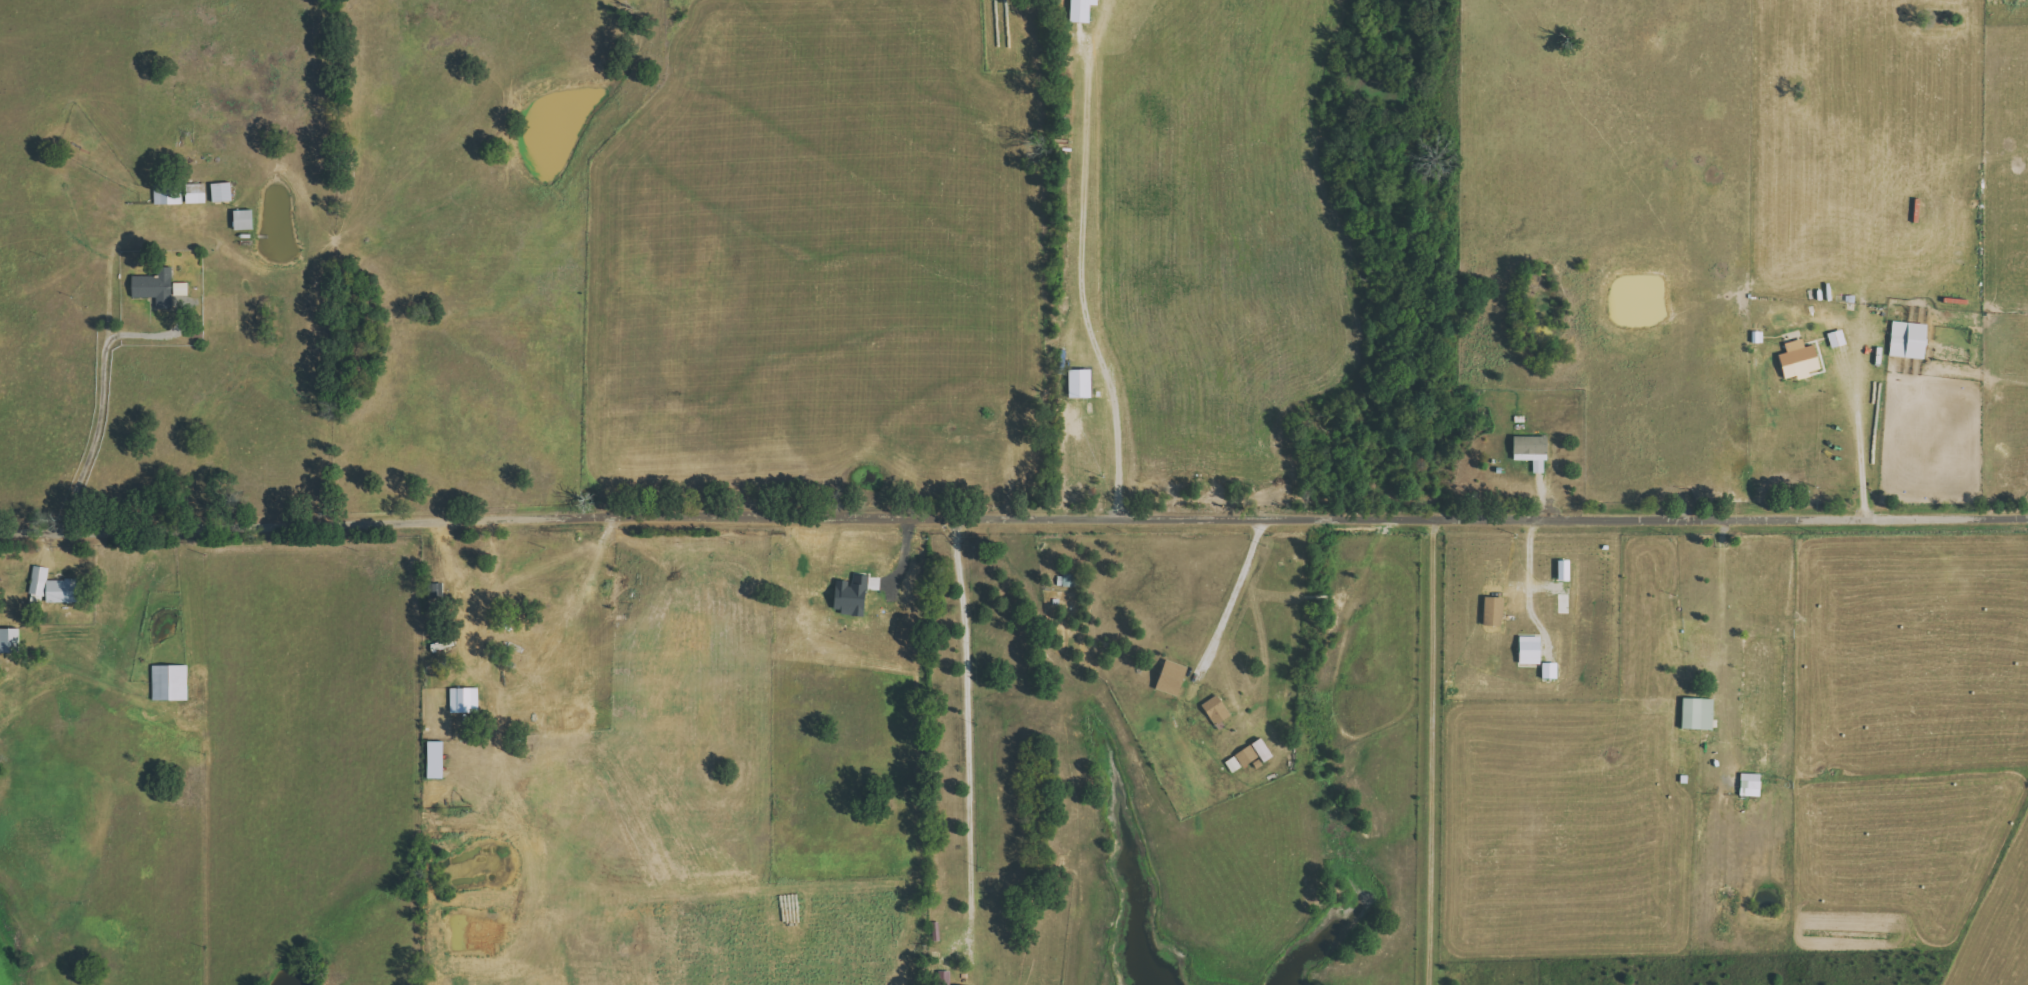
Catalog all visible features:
building: (1079, 11)
building: (221, 192)
building: (194, 193)
building: (241, 220)
road: (1083, 276)
building: (157, 287)
building: (1836, 338)
building: (1907, 340)
building: (1797, 360)
road: (101, 383)
building: (1078, 383)
road: (1858, 433)
building: (1530, 451)
road: (1014, 513)
building: (1563, 570)
road: (1531, 581)
road: (1720, 582)
building: (54, 587)
road: (1241, 596)
building: (849, 597)
building: (7, 641)
building: (1528, 650)
building: (1549, 670)
road: (512, 676)
building: (1169, 678)
building: (170, 683)
building: (464, 701)
building: (1215, 711)
building: (1697, 714)
road: (973, 726)
road: (1437, 752)
building: (1248, 755)
building: (433, 760)
building: (1749, 785)

